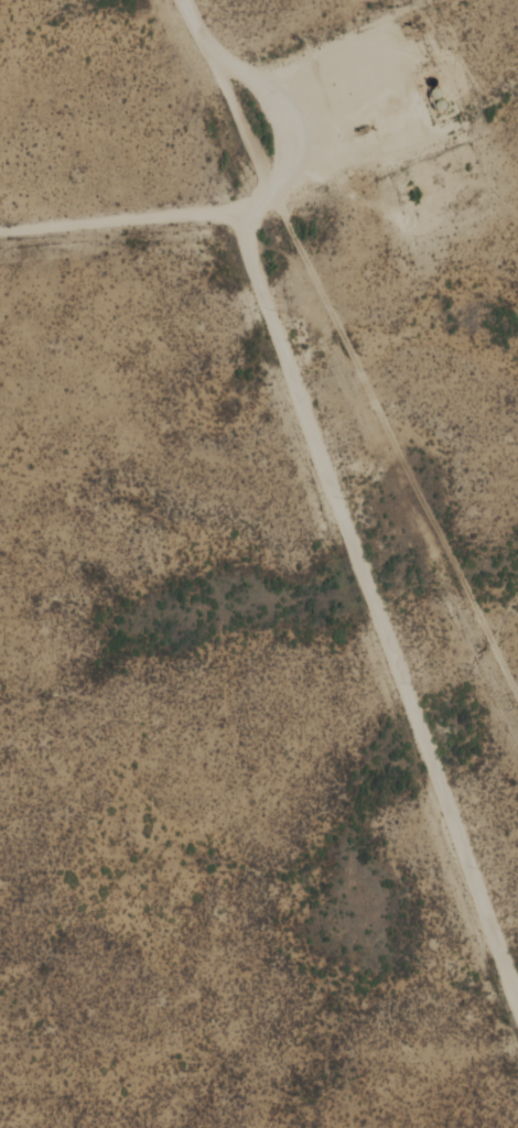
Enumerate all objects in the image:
road: (361, 469)

